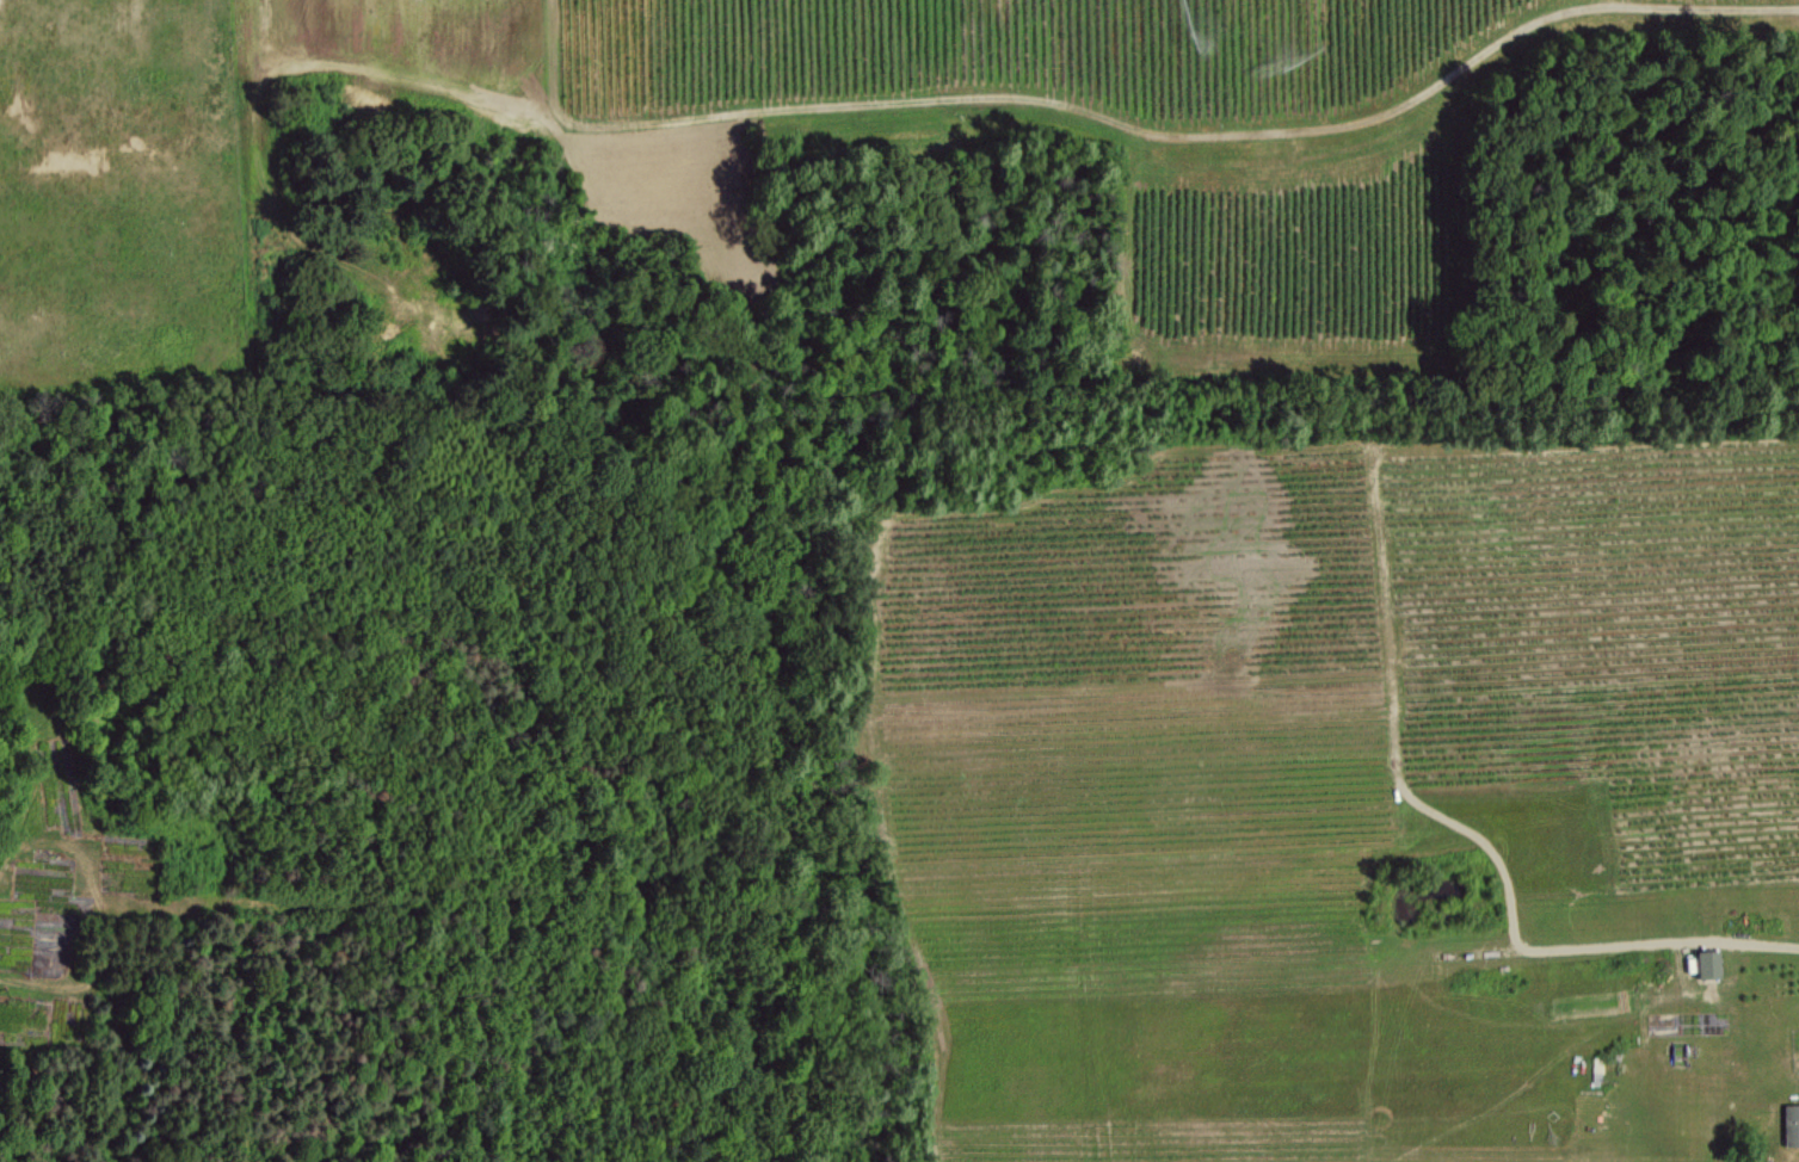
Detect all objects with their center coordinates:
road: (1664, 935)
building: (1706, 964)
building: (1791, 1125)

